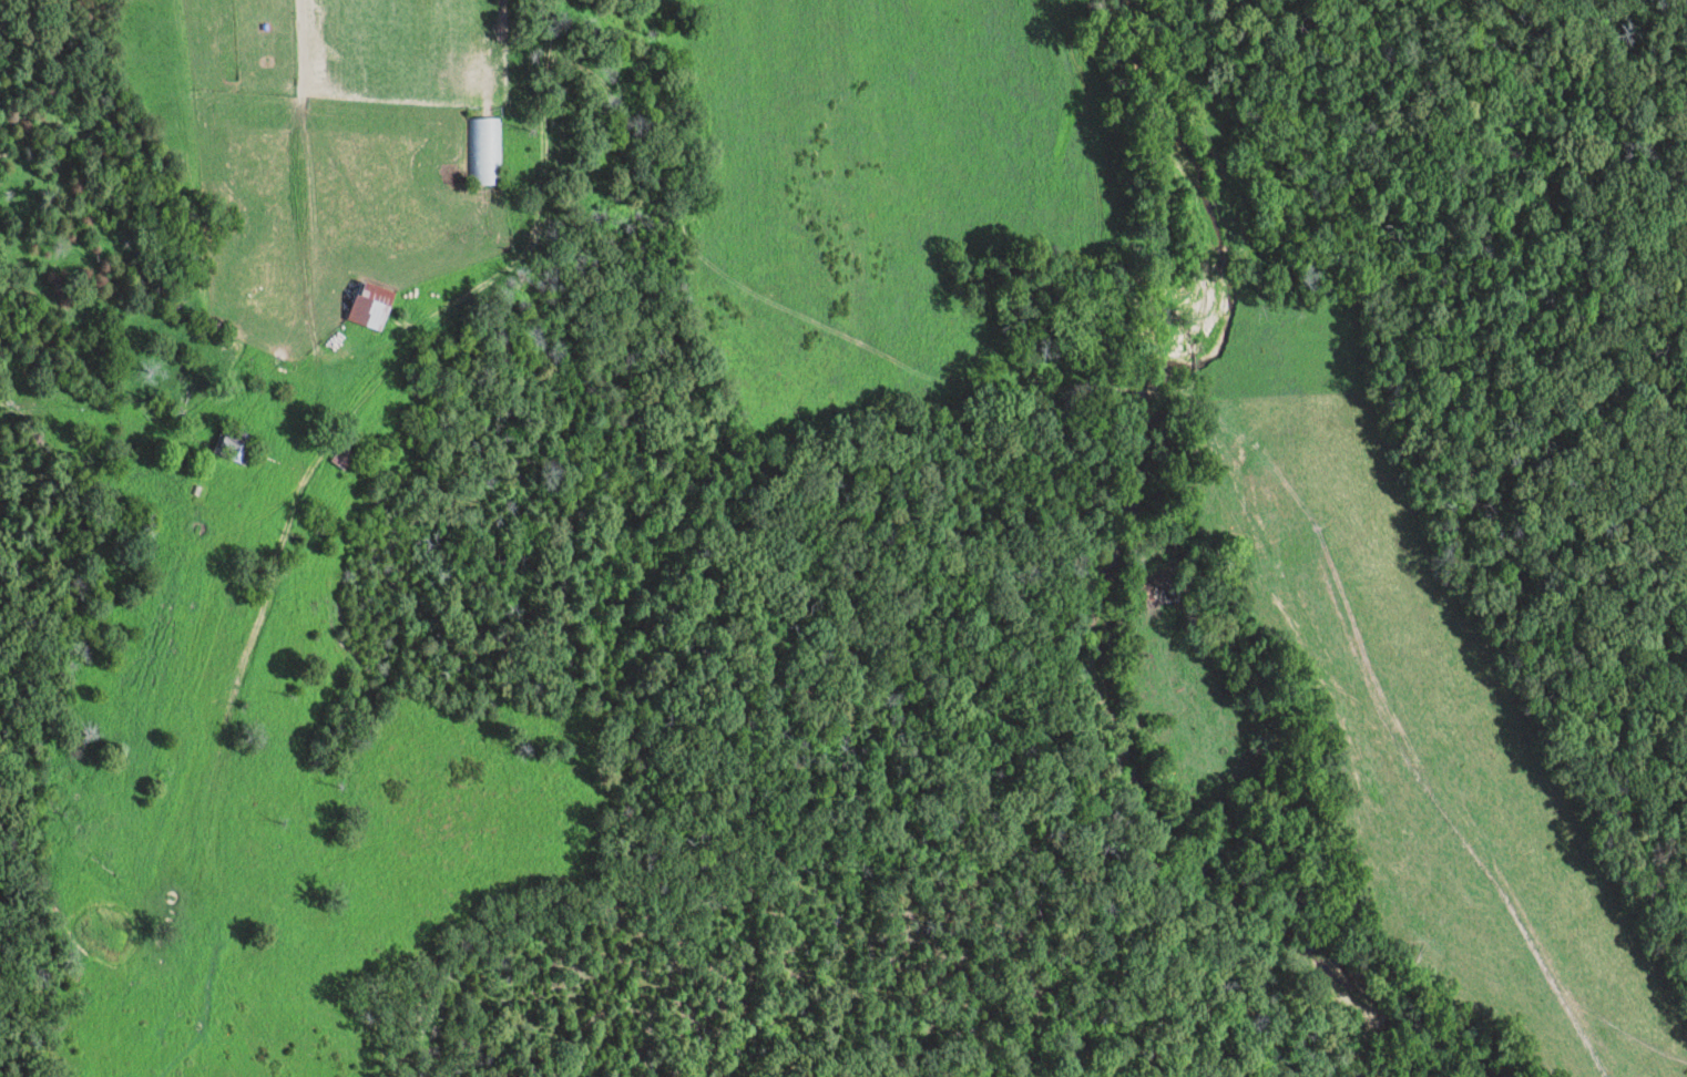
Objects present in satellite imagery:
building: (482, 153)
road: (252, 274)
building: (366, 307)
building: (231, 449)

